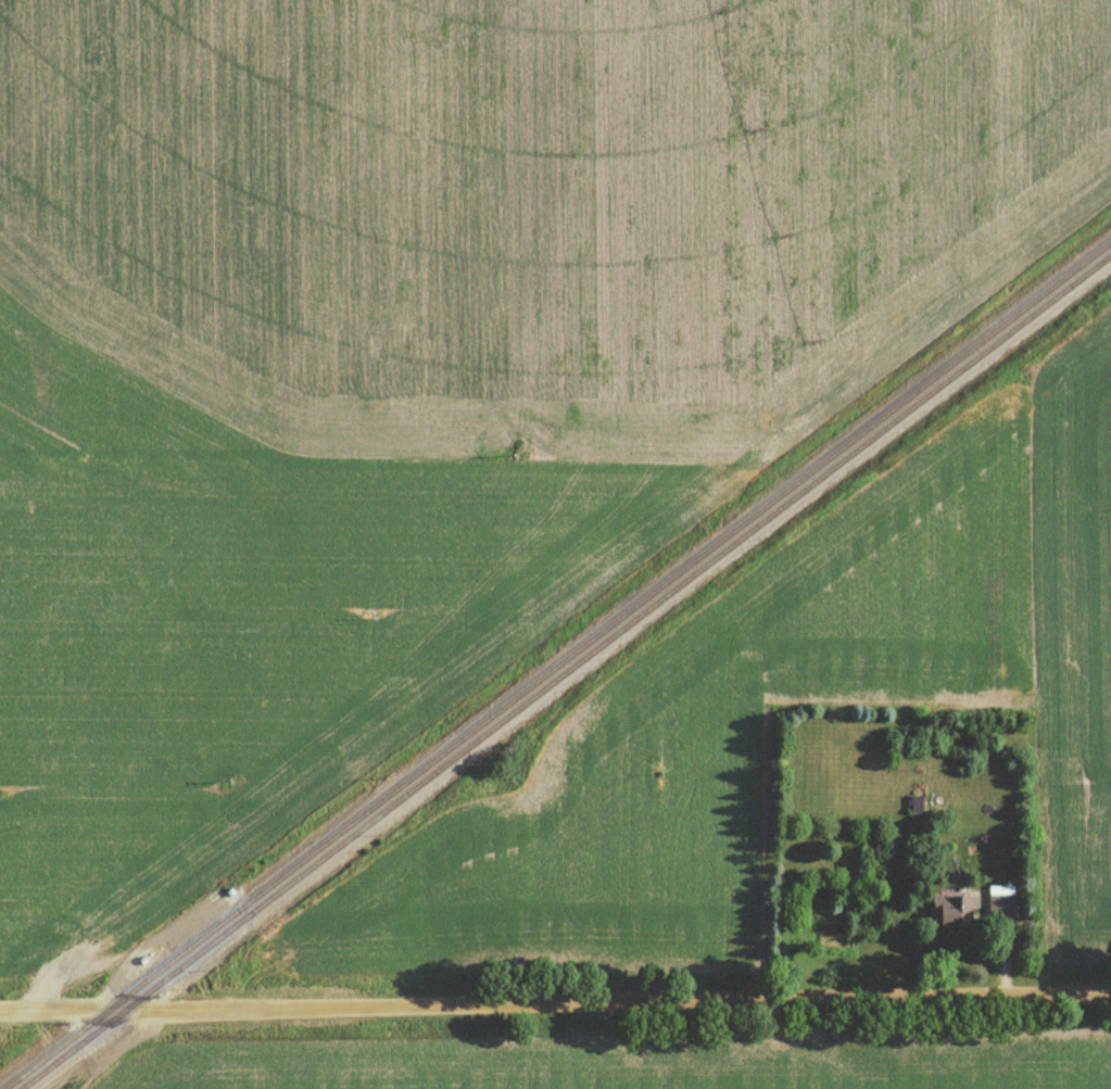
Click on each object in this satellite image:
railway: (560, 667)
railway: (567, 673)
building: (917, 808)
building: (1001, 909)
building: (954, 915)
road: (555, 1004)

